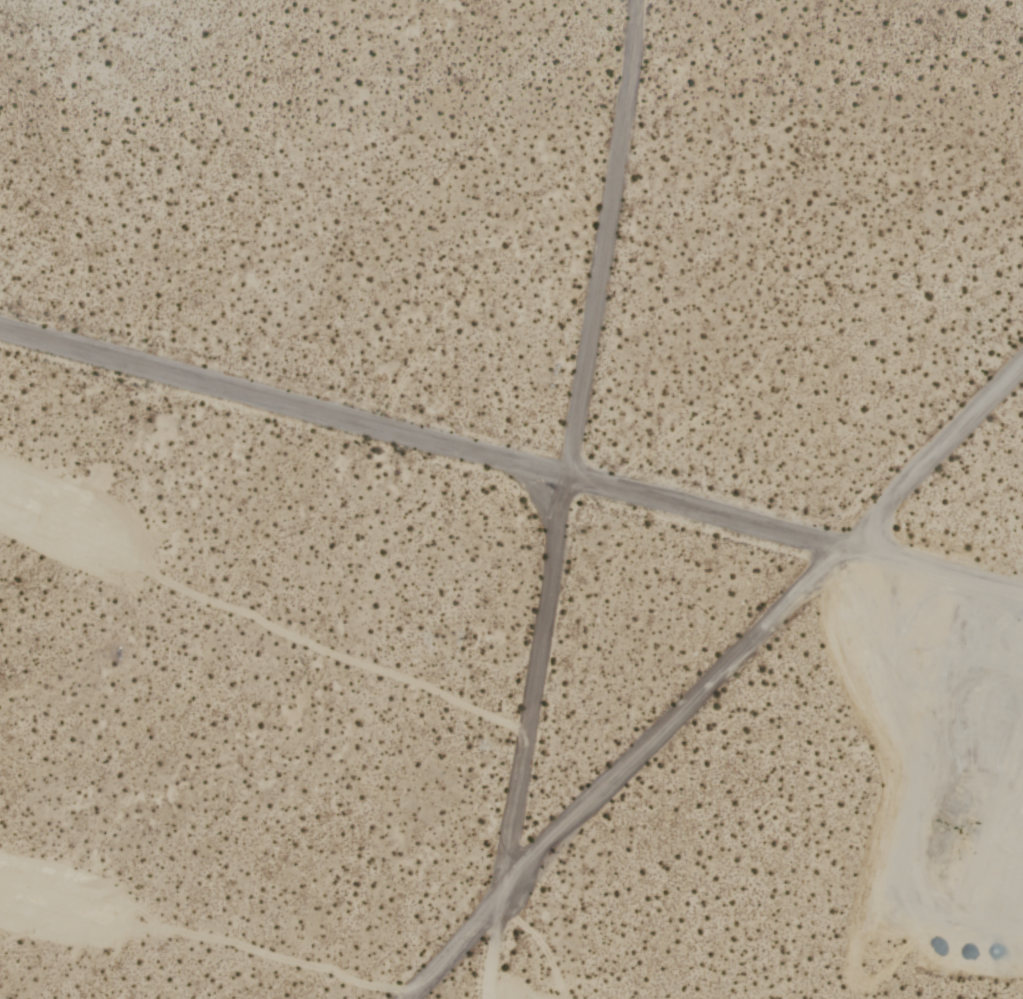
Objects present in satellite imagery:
airport: (511, 499)
road: (1004, 588)

